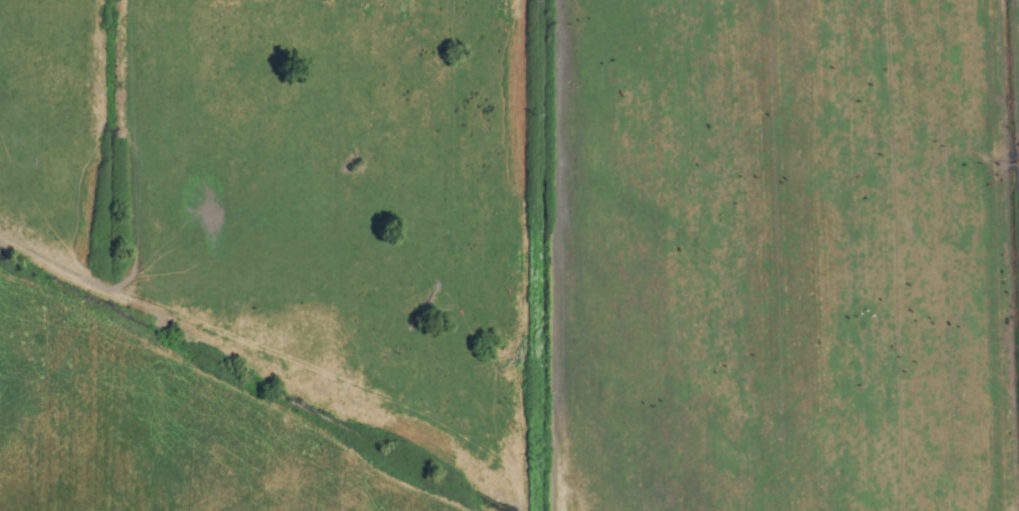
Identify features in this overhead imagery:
crop: (509, 255)
road: (56, 263)

